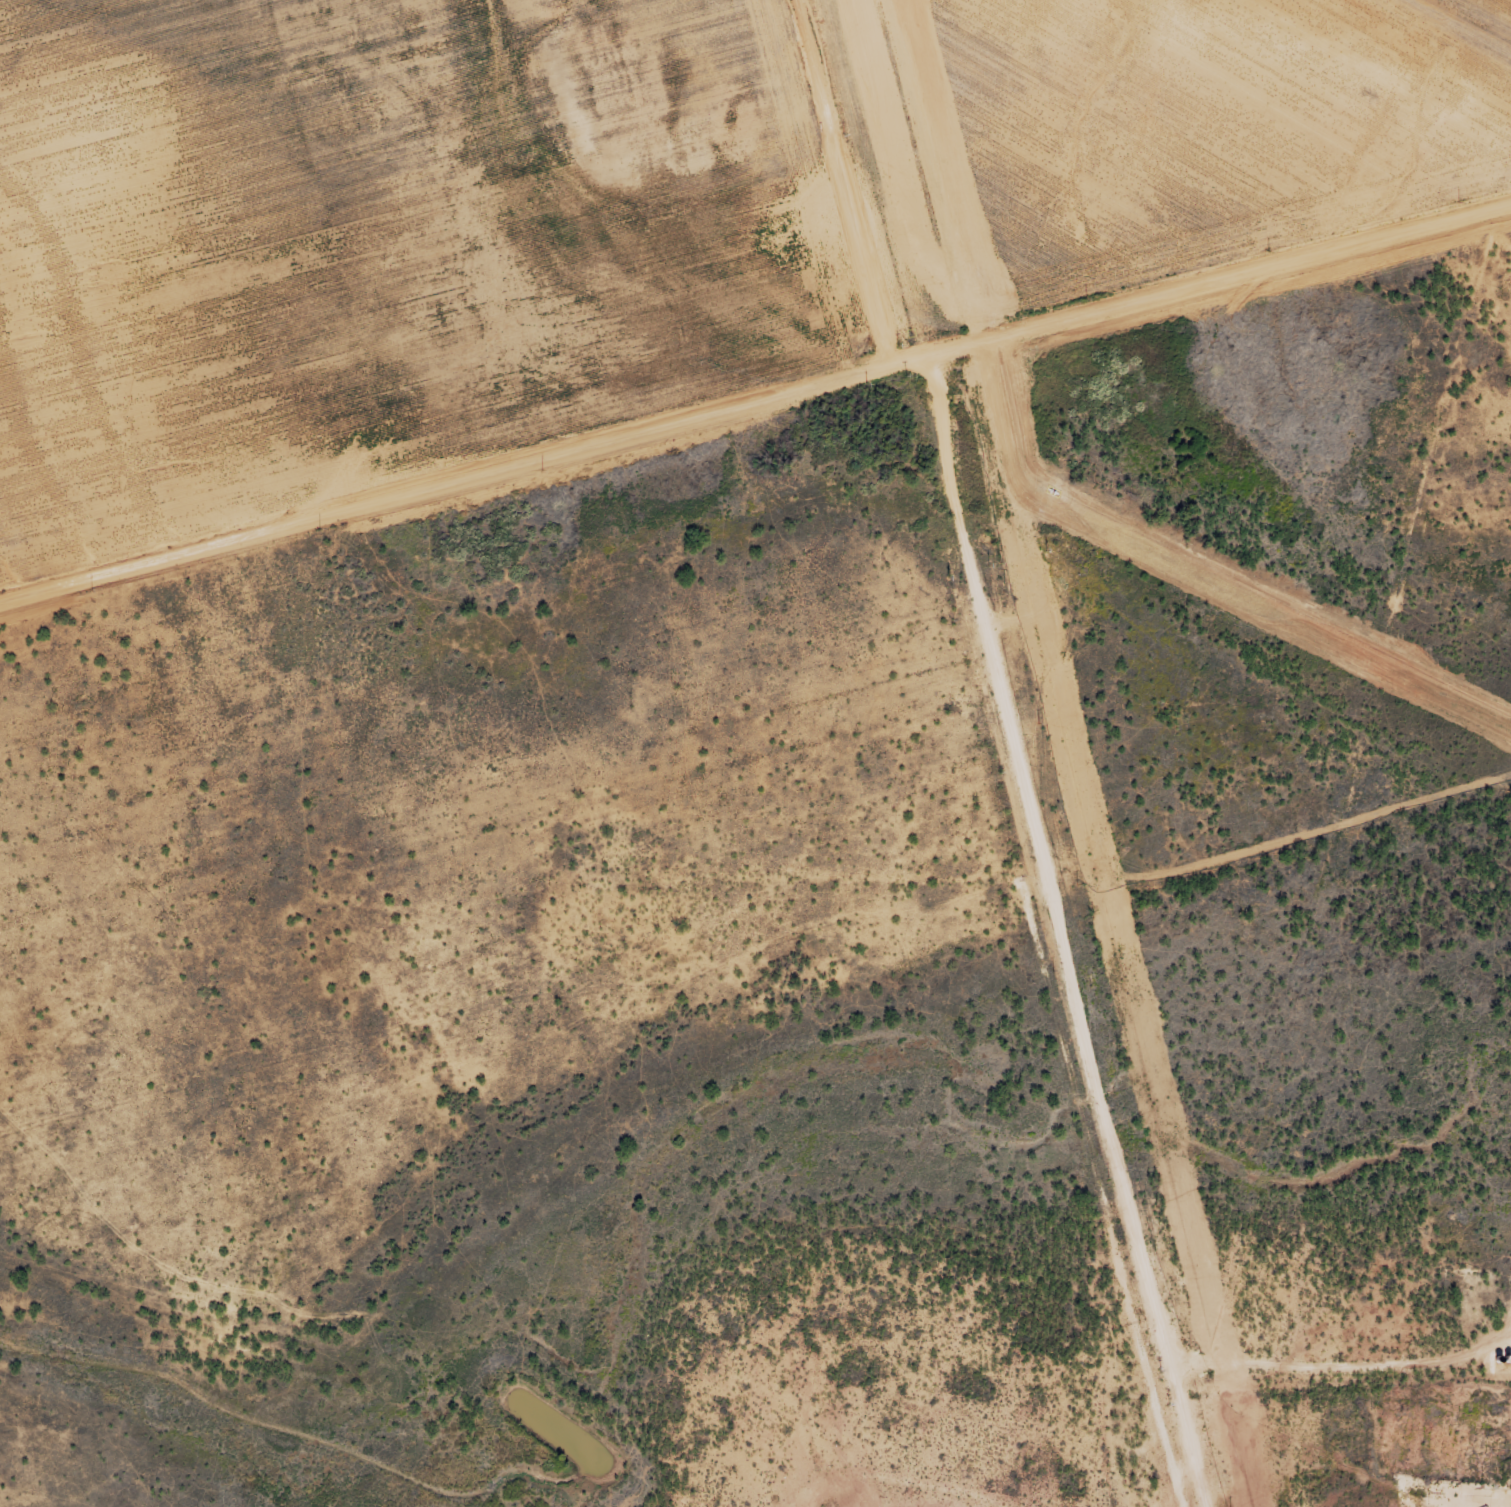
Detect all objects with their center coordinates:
road: (839, 170)
road: (890, 366)
road: (756, 424)

